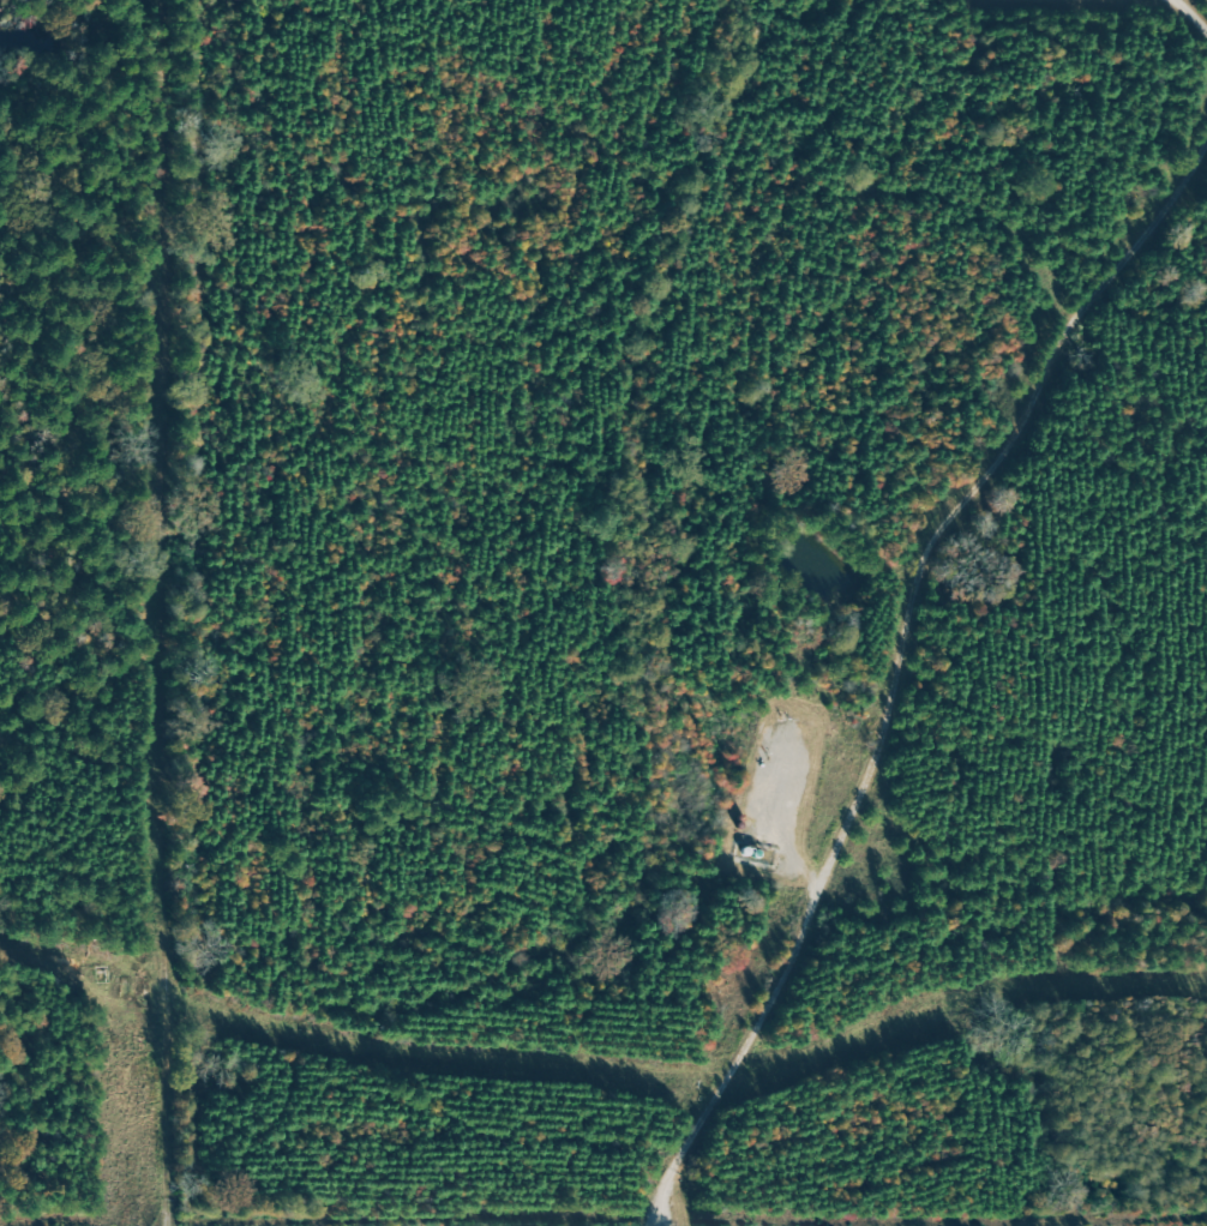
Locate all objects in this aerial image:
road: (194, 479)

